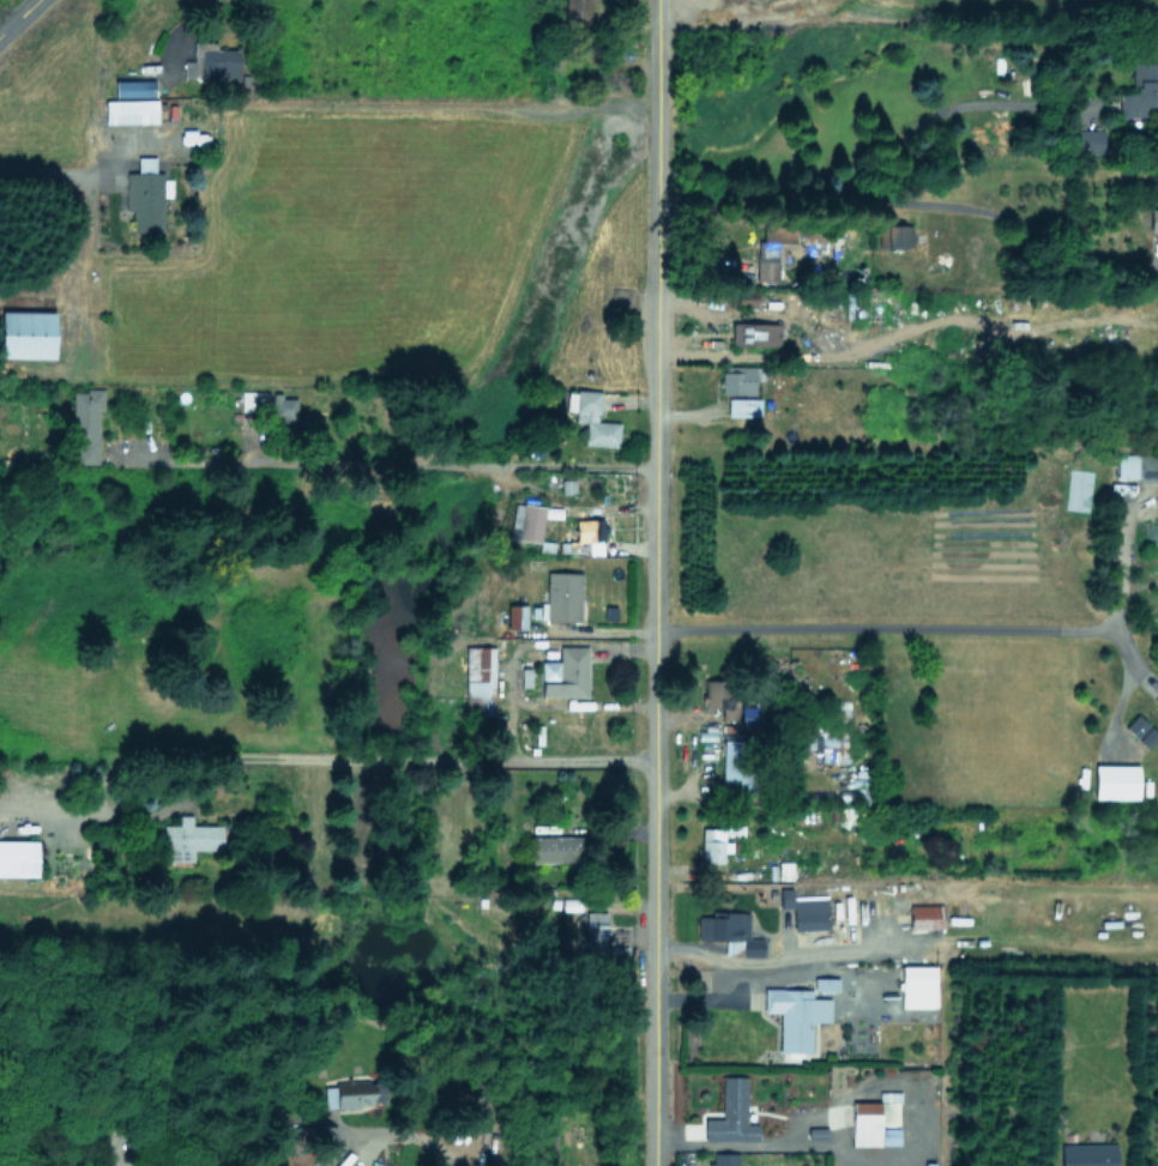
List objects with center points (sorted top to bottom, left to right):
building: (579, 12)
road: (17, 16)
road: (192, 17)
building: (210, 62)
building: (133, 87)
building: (1140, 90)
building: (129, 110)
building: (1087, 140)
road: (895, 145)
road: (98, 176)
building: (145, 194)
road: (909, 200)
building: (1153, 219)
building: (894, 235)
building: (771, 249)
building: (744, 297)
building: (26, 333)
building: (754, 333)
building: (738, 379)
building: (253, 400)
building: (283, 406)
building: (743, 406)
building: (592, 418)
building: (84, 424)
road: (384, 465)
building: (1136, 466)
building: (527, 521)
building: (586, 536)
road: (1120, 568)
road: (653, 582)
building: (562, 596)
building: (515, 616)
road: (880, 632)
building: (565, 673)
building: (478, 675)
building: (718, 697)
building: (1156, 700)
building: (749, 715)
building: (1141, 731)
road: (370, 756)
building: (735, 766)
building: (1115, 781)
building: (187, 840)
building: (712, 845)
building: (554, 848)
building: (18, 857)
building: (804, 910)
building: (924, 917)
building: (593, 930)
building: (729, 934)
road: (773, 959)
road: (819, 960)
road: (770, 978)
building: (917, 986)
building: (795, 1015)
building: (354, 1094)
building: (730, 1113)
building: (875, 1120)
road: (400, 1130)
road: (766, 1143)
building: (1087, 1154)
building: (723, 1159)
building: (375, 1164)

